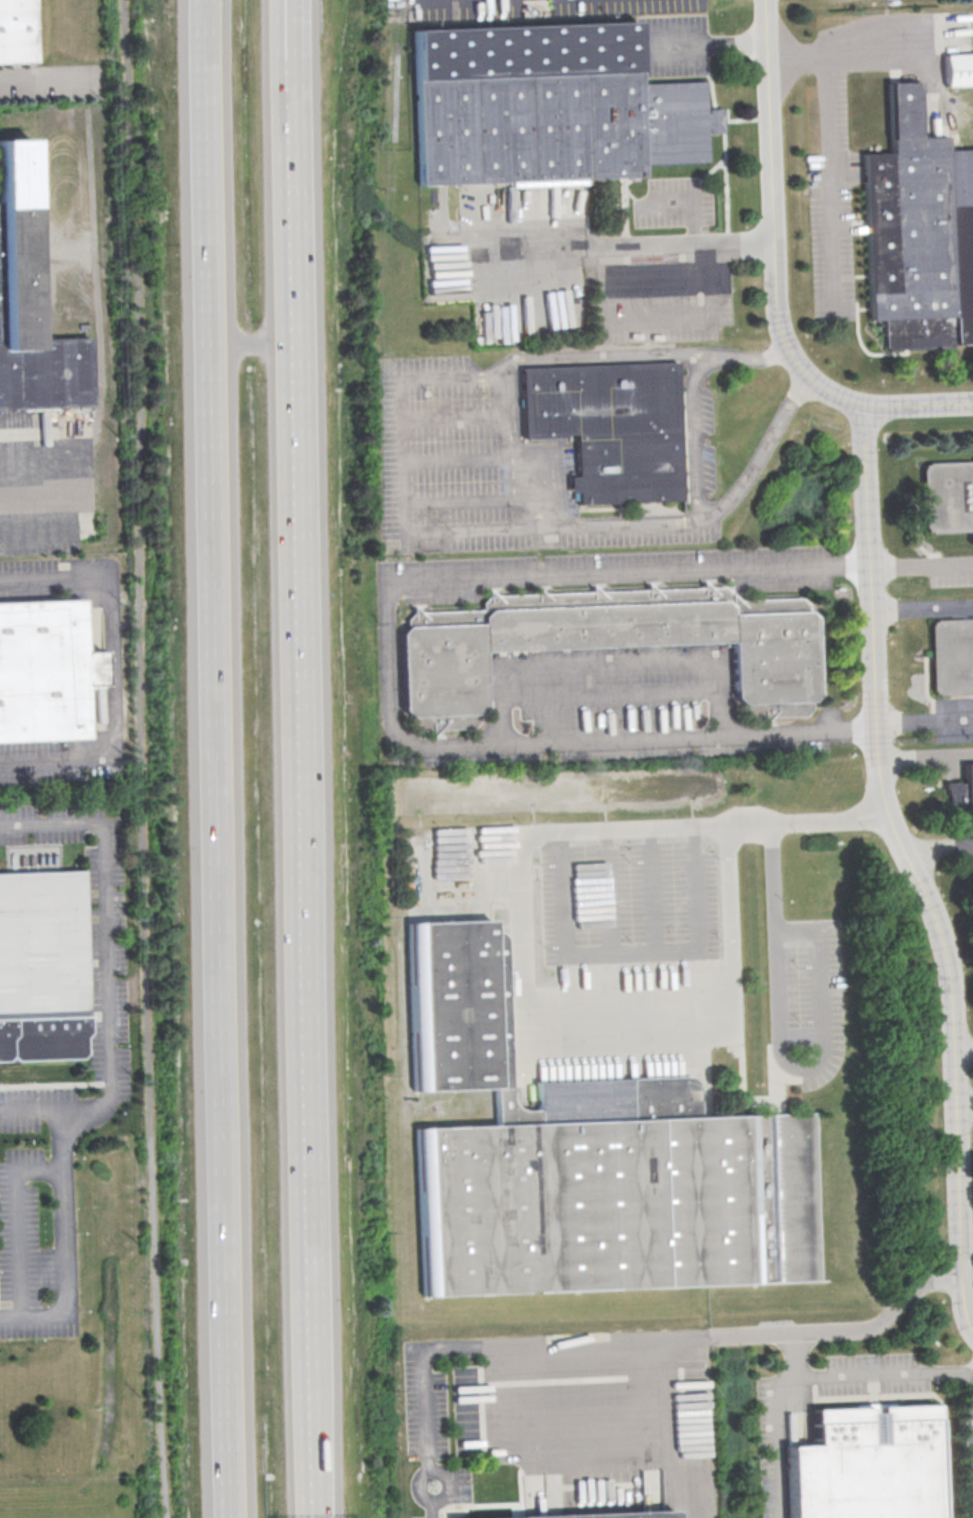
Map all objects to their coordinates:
road: (480, 3)
building: (16, 33)
road: (288, 33)
road: (291, 33)
road: (715, 46)
road: (845, 52)
building: (959, 71)
road: (32, 78)
building: (547, 106)
road: (830, 182)
road: (688, 196)
road: (294, 205)
building: (920, 231)
road: (679, 240)
road: (516, 247)
road: (774, 278)
road: (519, 288)
building: (30, 310)
road: (628, 318)
road: (253, 344)
road: (604, 359)
road: (454, 416)
building: (612, 429)
road: (511, 456)
road: (456, 458)
road: (402, 461)
road: (694, 483)
road: (32, 492)
building: (948, 497)
road: (458, 501)
road: (624, 524)
road: (54, 534)
road: (922, 563)
road: (923, 606)
building: (607, 643)
building: (952, 658)
road: (385, 661)
road: (609, 663)
road: (113, 669)
building: (42, 673)
road: (610, 695)
parking lot: (609, 721)
road: (925, 726)
road: (142, 758)
road: (927, 758)
road: (216, 759)
building: (960, 794)
road: (303, 835)
road: (939, 845)
road: (913, 867)
road: (654, 893)
road: (610, 895)
road: (630, 953)
road: (524, 958)
building: (42, 965)
road: (964, 1051)
road: (779, 1056)
road: (115, 1064)
road: (965, 1105)
road: (38, 1115)
building: (589, 1160)
road: (21, 1226)
road: (845, 1329)
road: (481, 1346)
road: (863, 1376)
road: (313, 1423)
road: (778, 1443)
road: (583, 1444)
building: (865, 1466)
road: (677, 1476)
building: (477, 1488)
building: (618, 1515)

